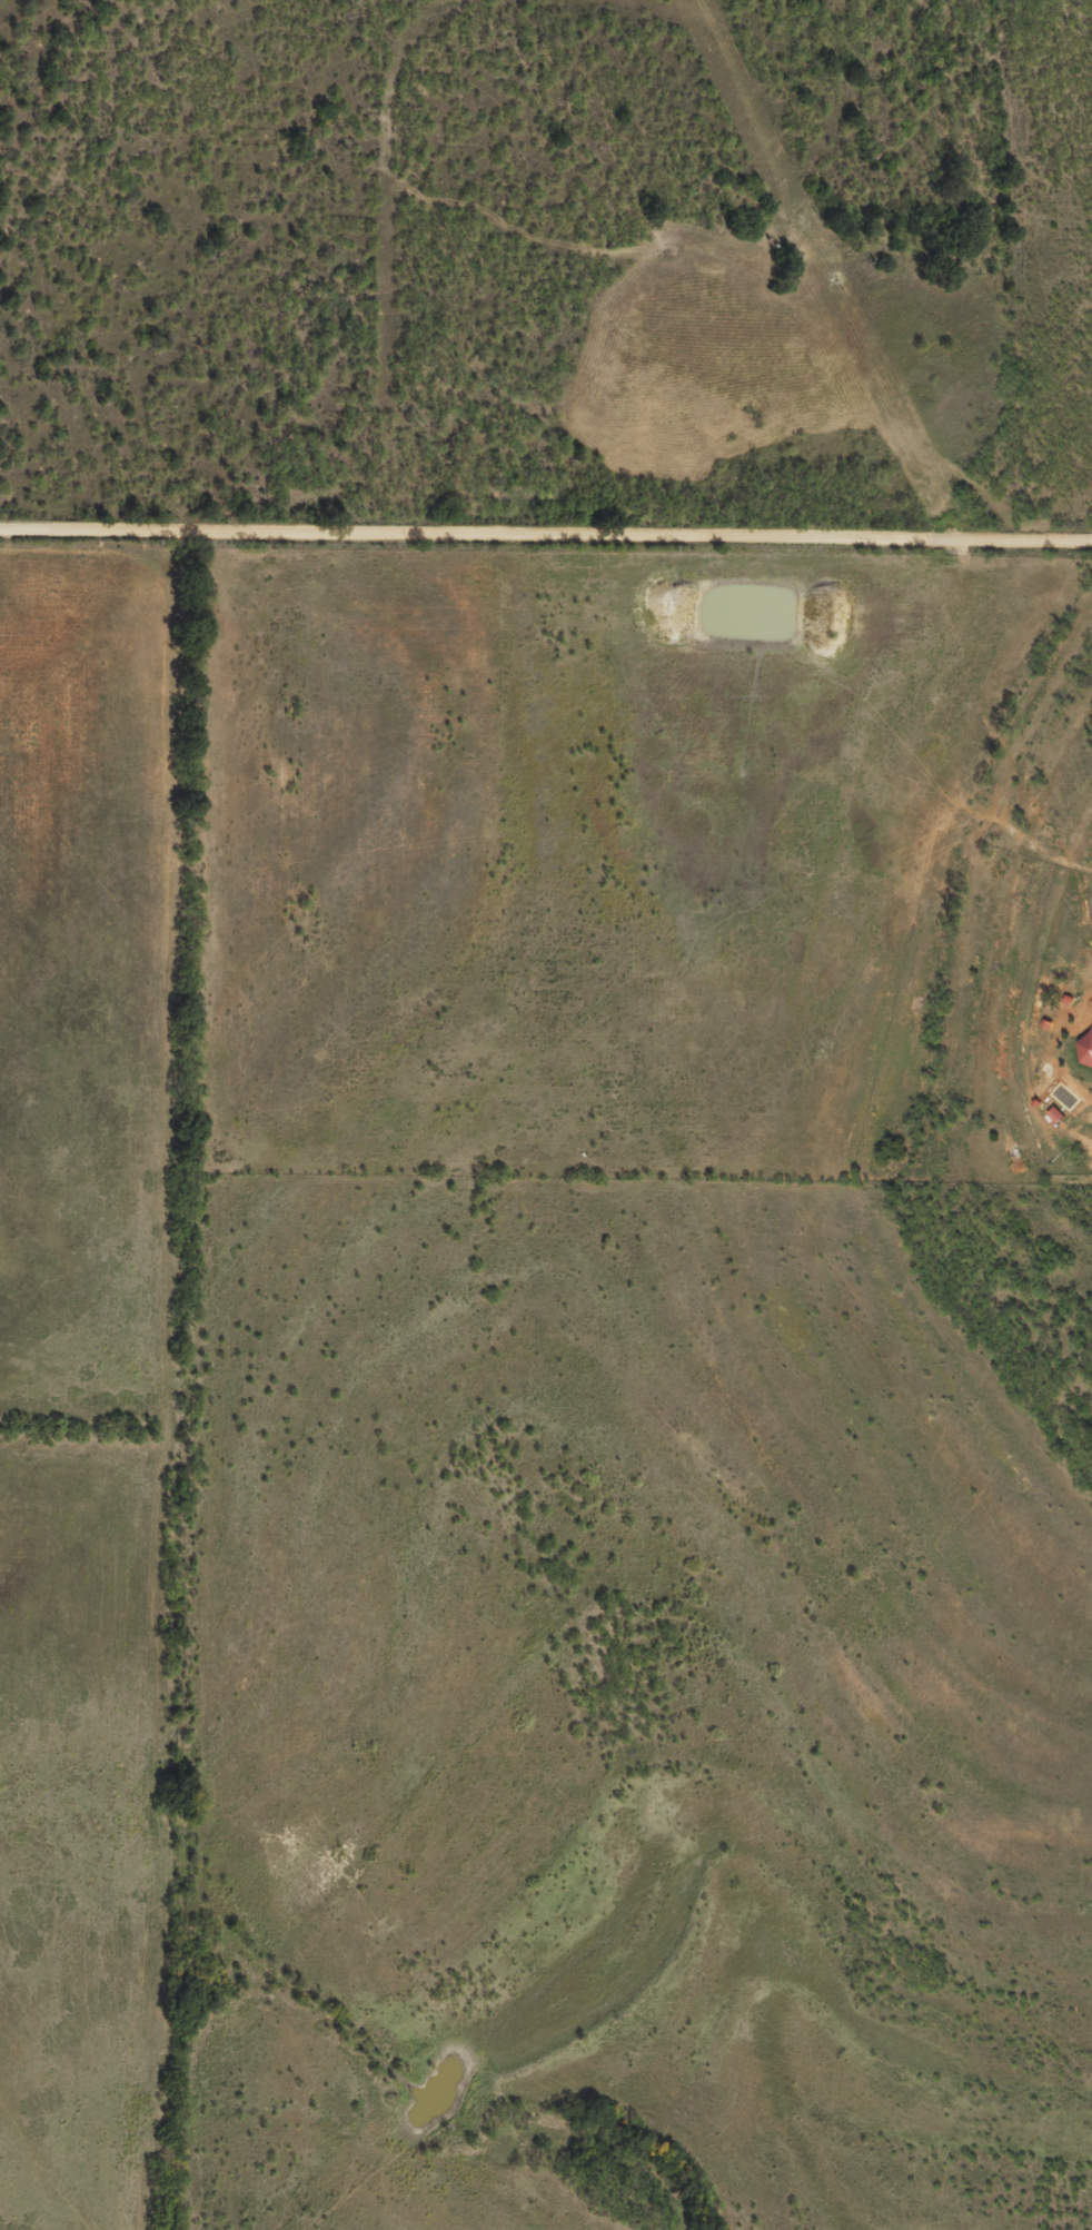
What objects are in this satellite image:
road: (546, 541)
building: (1084, 1058)

